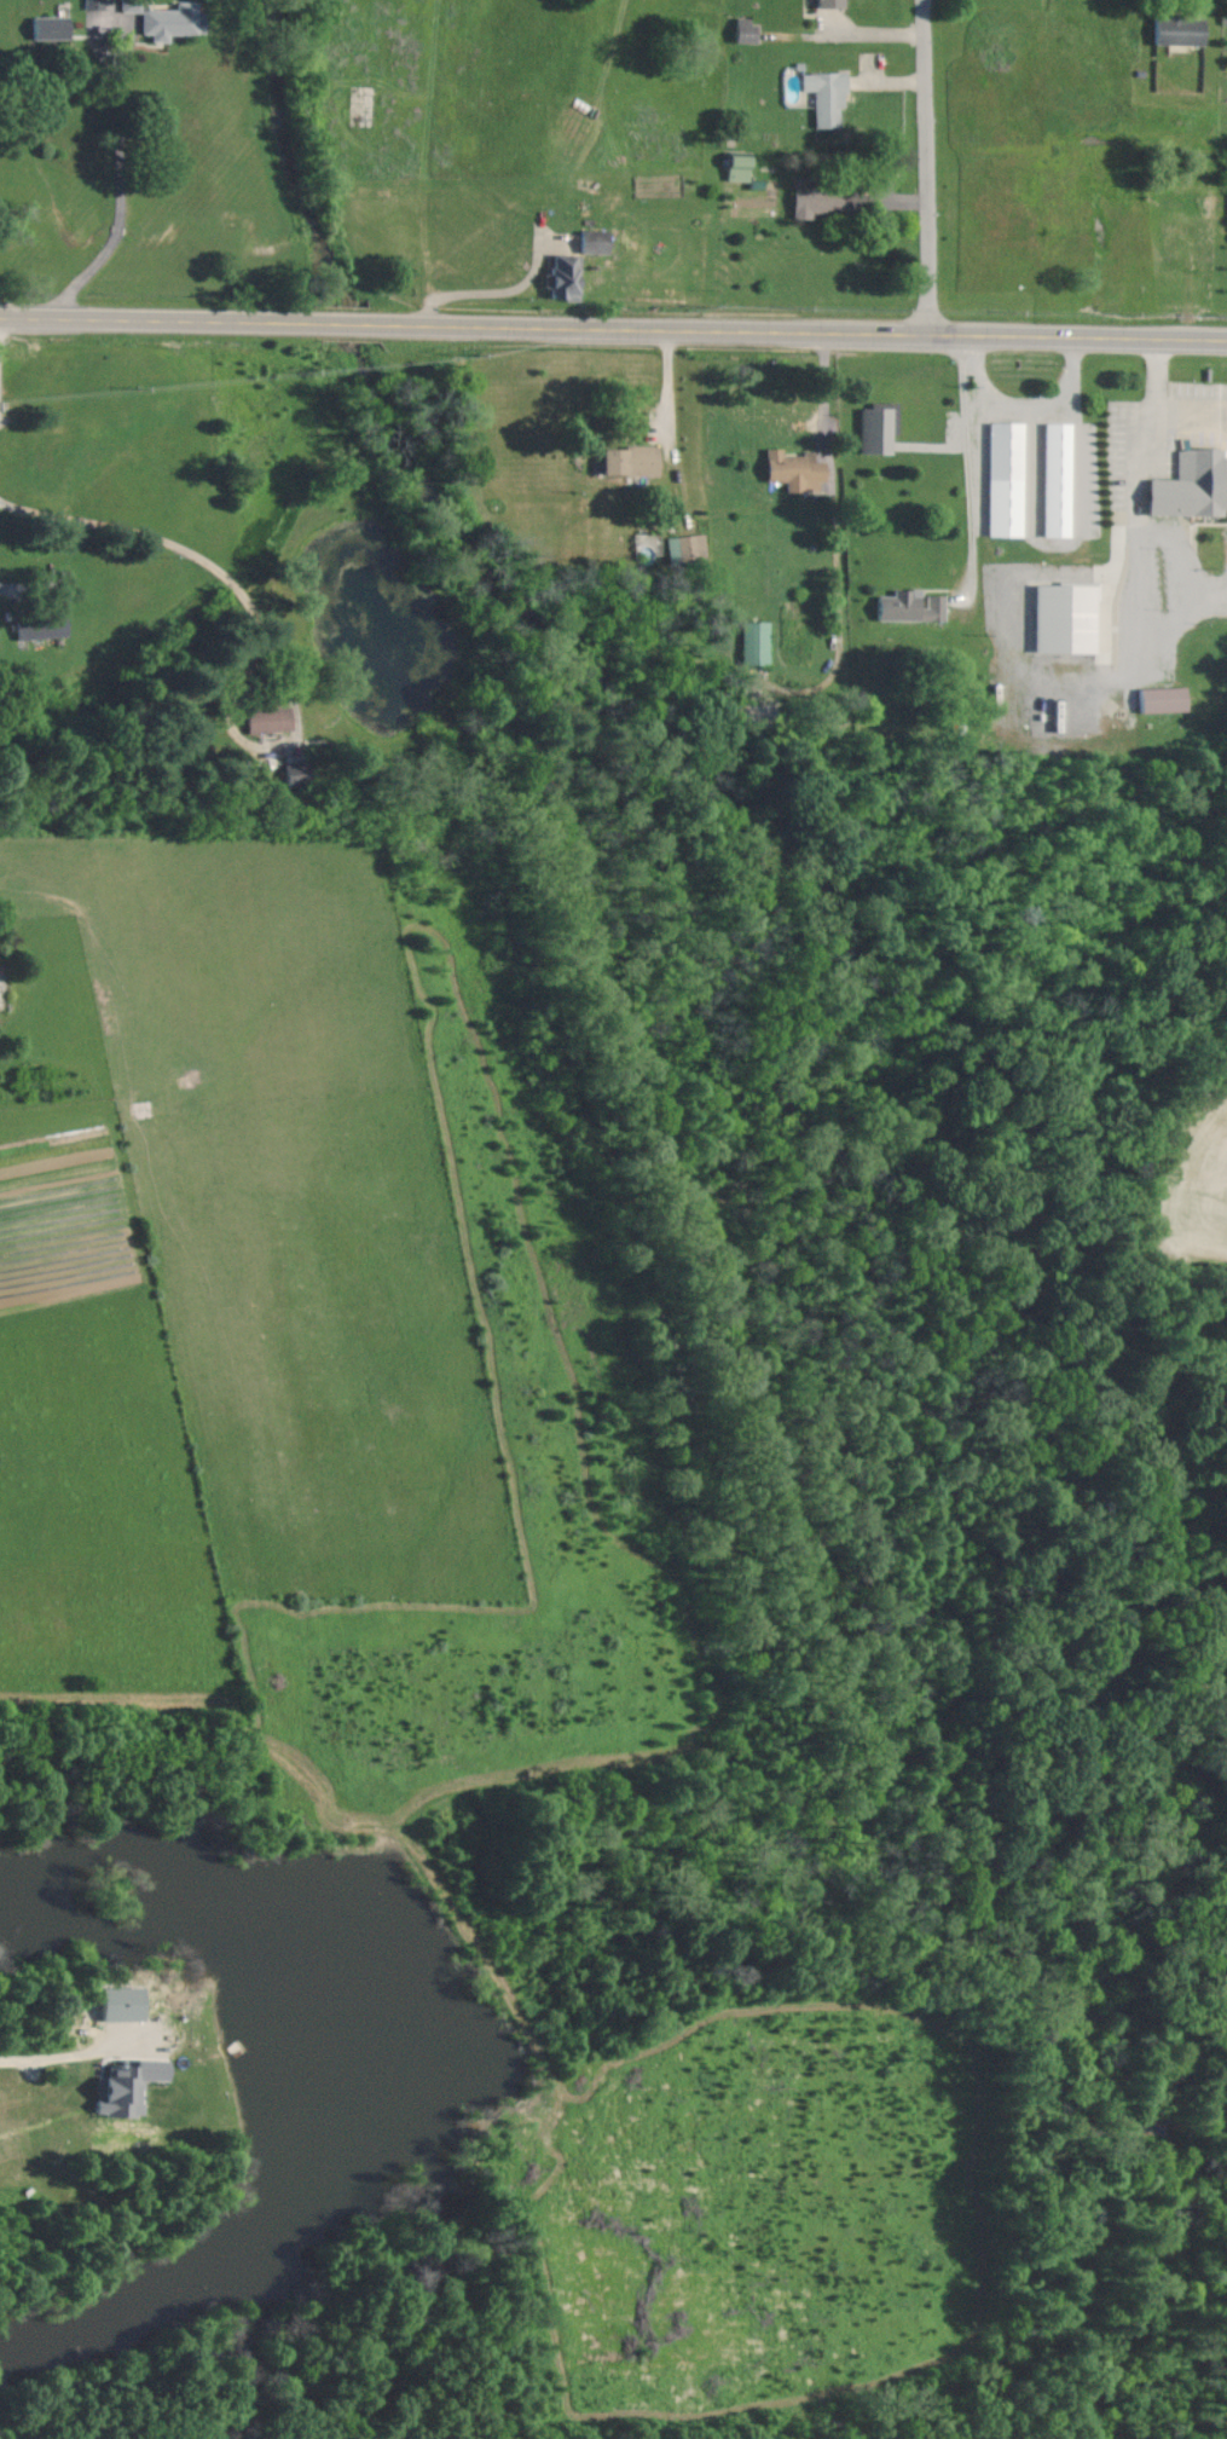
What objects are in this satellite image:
building: (823, 2)
building: (94, 4)
building: (167, 18)
building: (52, 27)
building: (740, 29)
building: (1173, 30)
building: (821, 96)
building: (731, 164)
road: (930, 169)
road: (117, 185)
building: (814, 201)
building: (601, 238)
building: (555, 285)
road: (154, 320)
road: (345, 323)
road: (803, 334)
road: (1024, 409)
road: (1156, 416)
building: (873, 427)
building: (624, 460)
road: (970, 468)
building: (788, 469)
building: (1001, 479)
building: (1053, 479)
building: (1188, 485)
building: (685, 548)
road: (198, 559)
building: (904, 606)
building: (1059, 618)
building: (44, 626)
building: (752, 641)
building: (261, 716)
building: (291, 773)
road: (81, 2053)
building: (121, 2085)

